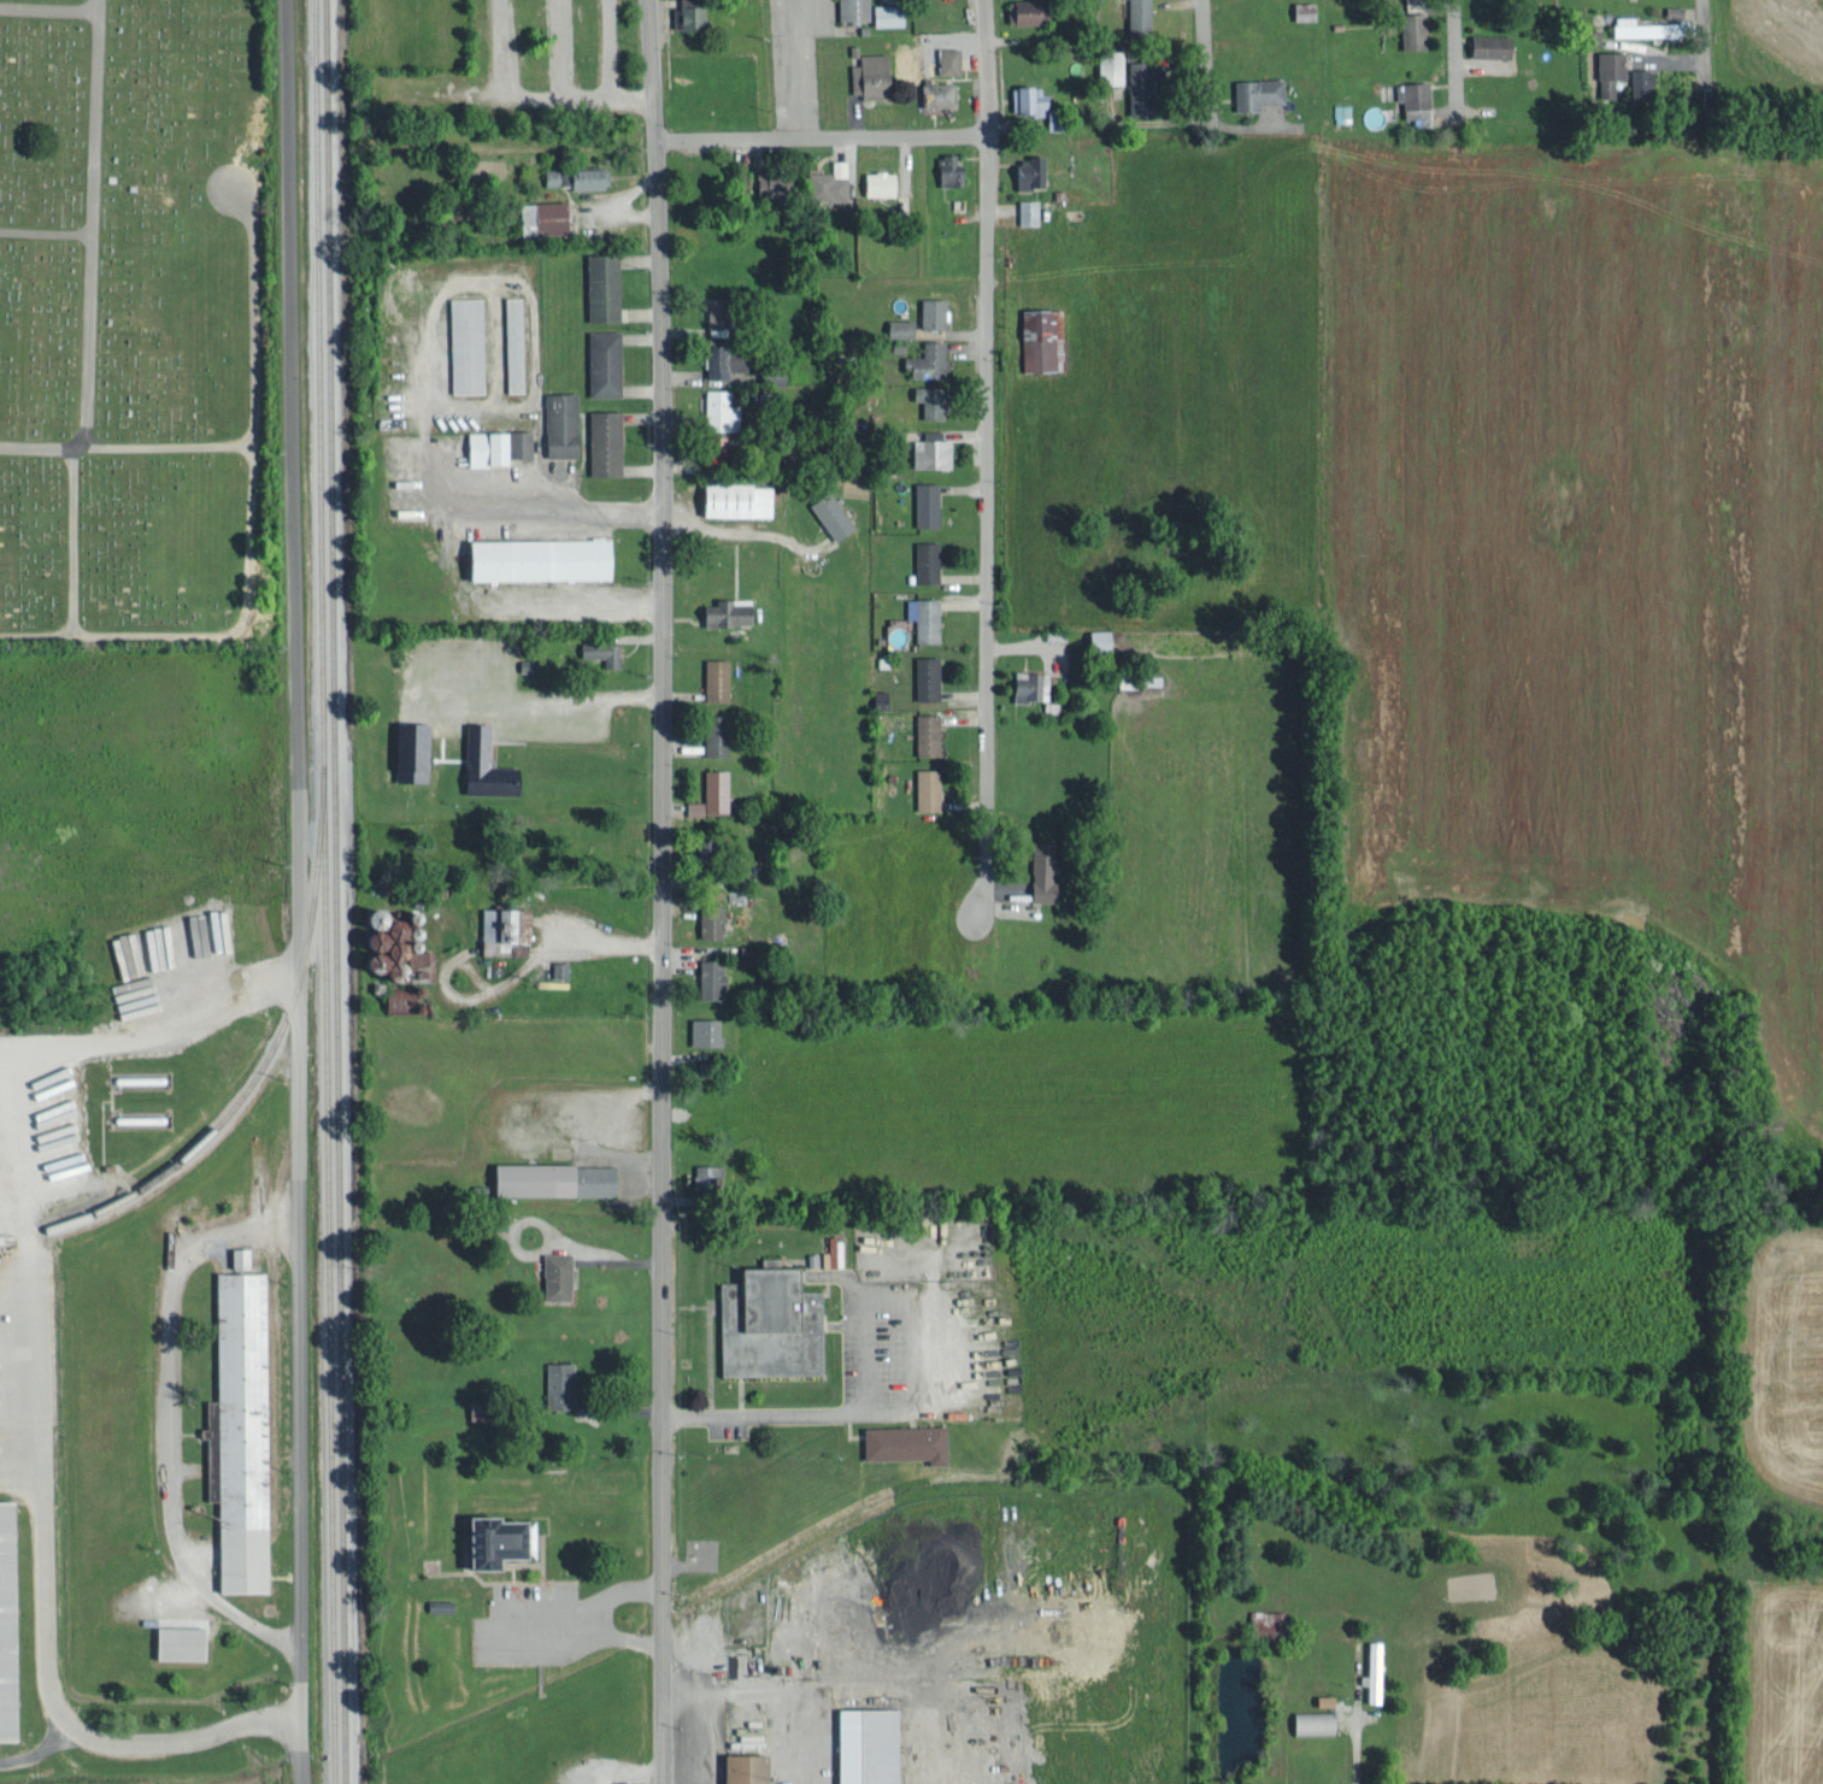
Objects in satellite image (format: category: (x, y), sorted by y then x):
building: (1299, 8)
building: (849, 10)
road: (51, 11)
building: (1017, 11)
building: (1669, 12)
building: (883, 13)
building: (684, 14)
building: (1134, 16)
road: (1700, 17)
building: (1633, 27)
building: (1406, 29)
building: (1588, 36)
building: (1484, 43)
road: (1456, 47)
road: (1205, 48)
building: (937, 59)
building: (1605, 71)
building: (865, 75)
building: (1119, 76)
building: (1636, 81)
building: (1252, 90)
building: (933, 93)
building: (1409, 95)
building: (1023, 98)
road: (821, 135)
building: (836, 166)
building: (945, 167)
building: (1023, 171)
building: (582, 176)
building: (768, 182)
building: (876, 182)
building: (822, 186)
building: (1025, 211)
building: (539, 216)
road: (46, 234)
road: (92, 260)
building: (598, 285)
building: (928, 311)
park: (130, 318)
building: (895, 326)
building: (1035, 336)
building: (511, 343)
building: (924, 359)
building: (463, 360)
building: (718, 360)
building: (600, 361)
building: (925, 401)
building: (716, 410)
building: (557, 423)
building: (516, 442)
building: (481, 447)
building: (711, 447)
road: (165, 448)
building: (928, 451)
road: (984, 454)
building: (730, 499)
building: (922, 504)
road: (551, 505)
building: (827, 513)
road: (253, 530)
road: (75, 538)
building: (533, 558)
building: (922, 560)
building: (721, 612)
building: (921, 617)
building: (1094, 638)
building: (596, 650)
building: (923, 677)
building: (711, 678)
building: (1024, 684)
building: (923, 732)
building: (711, 734)
building: (406, 750)
building: (480, 764)
building: (923, 788)
building: (712, 789)
building: (1039, 876)
road: (298, 891)
railway: (325, 891)
railway: (339, 891)
road: (661, 891)
building: (705, 919)
building: (499, 930)
building: (124, 962)
building: (414, 964)
building: (555, 968)
building: (706, 978)
building: (700, 1031)
building: (702, 1172)
building: (546, 1178)
building: (830, 1252)
building: (243, 1255)
building: (552, 1274)
road: (30, 1280)
building: (764, 1320)
building: (554, 1383)
road: (170, 1425)
building: (243, 1431)
building: (899, 1441)
building: (483, 1539)
building: (435, 1603)
building: (1260, 1619)
building: (12, 1621)
building: (186, 1641)
building: (1371, 1670)
building: (1309, 1720)
road: (176, 1739)
building: (860, 1744)
road: (1353, 1751)

